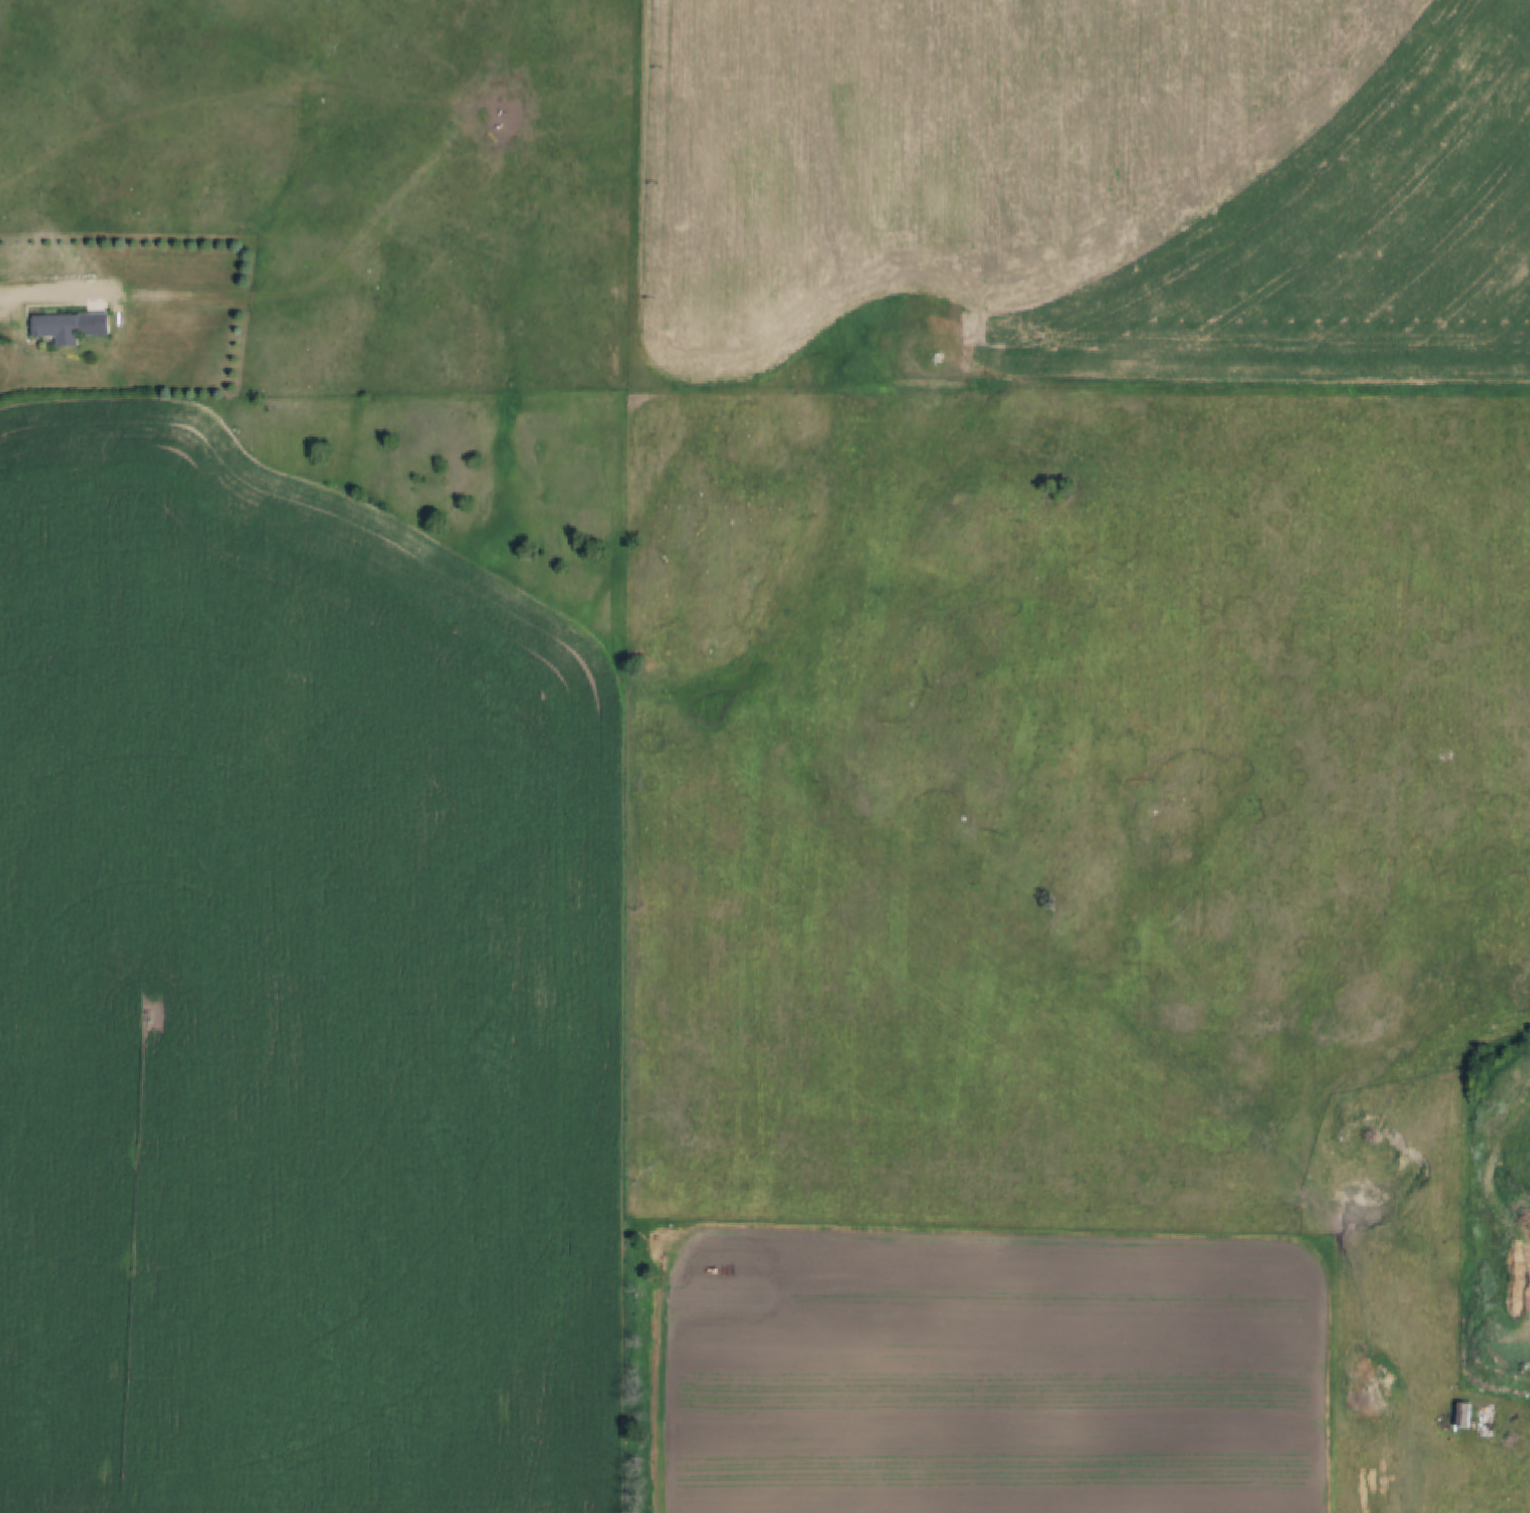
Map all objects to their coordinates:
road: (65, 301)
building: (74, 326)
road: (1389, 1365)
building: (1465, 1414)

